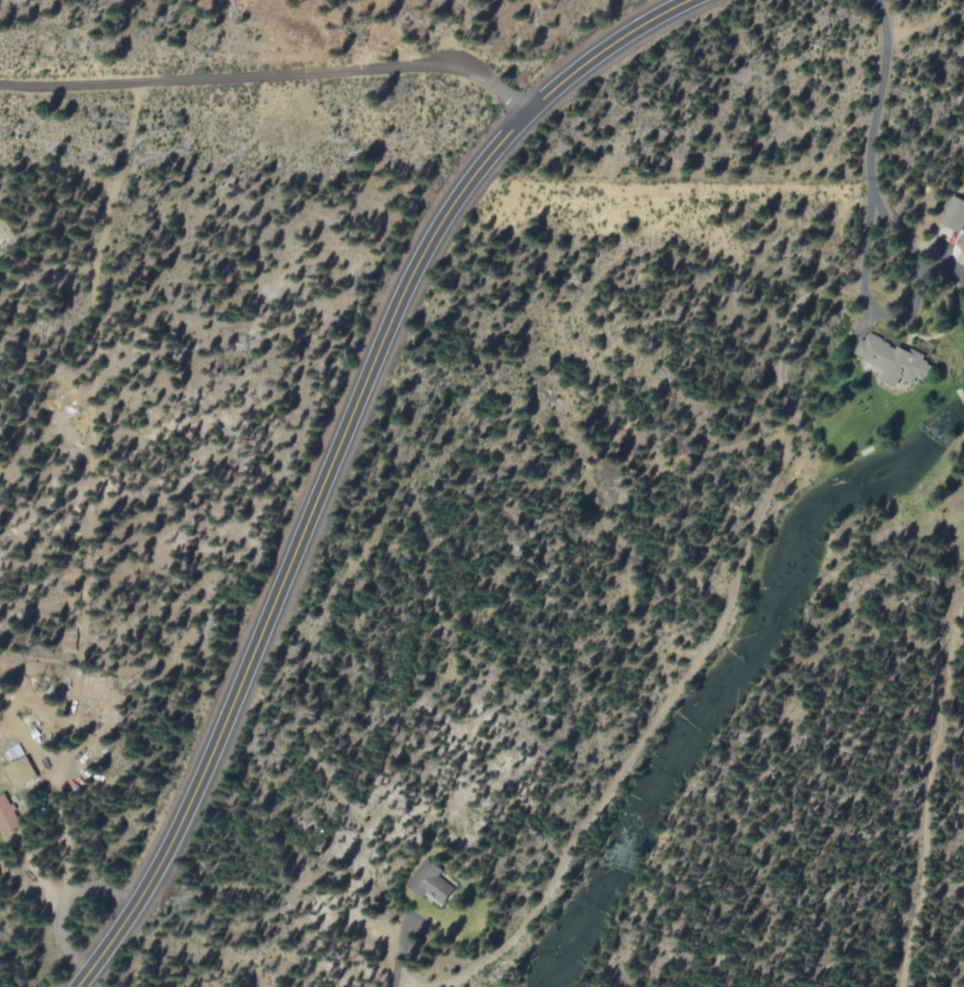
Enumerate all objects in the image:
road: (392, 35)
road: (272, 73)
road: (880, 98)
building: (954, 214)
building: (962, 246)
road: (906, 320)
building: (894, 362)
road: (960, 396)
road: (338, 453)
road: (704, 650)
river: (728, 682)
building: (13, 751)
building: (19, 770)
road: (58, 806)
building: (6, 813)
building: (431, 883)
road: (66, 907)
road: (402, 954)

